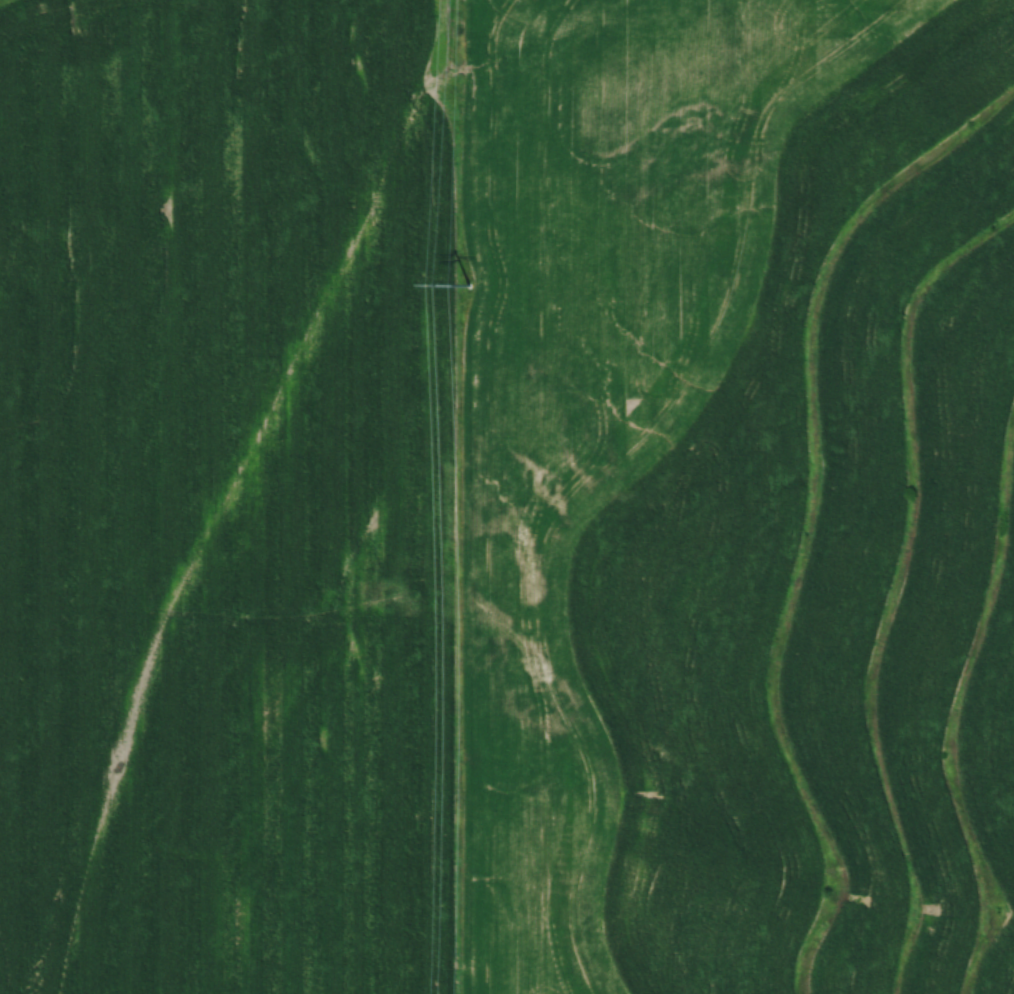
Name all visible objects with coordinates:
power tower: (470, 286)

